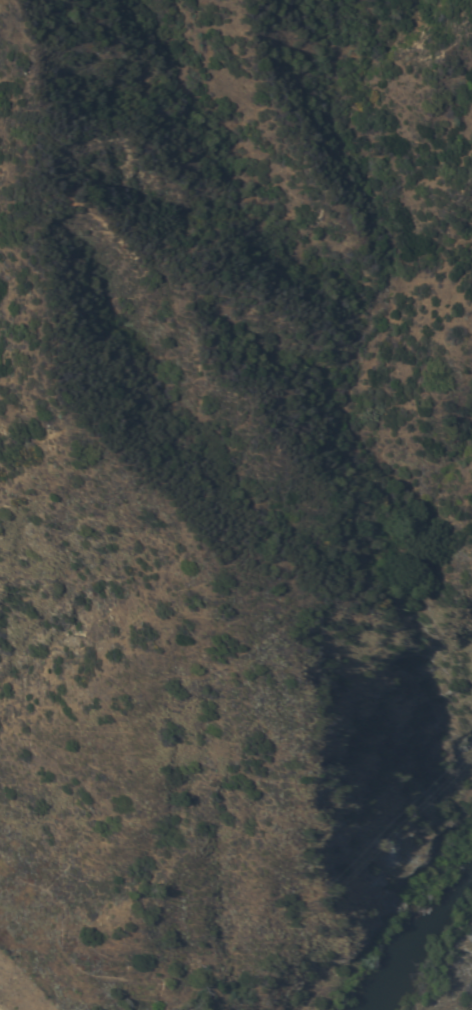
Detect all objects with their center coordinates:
river: (421, 947)

